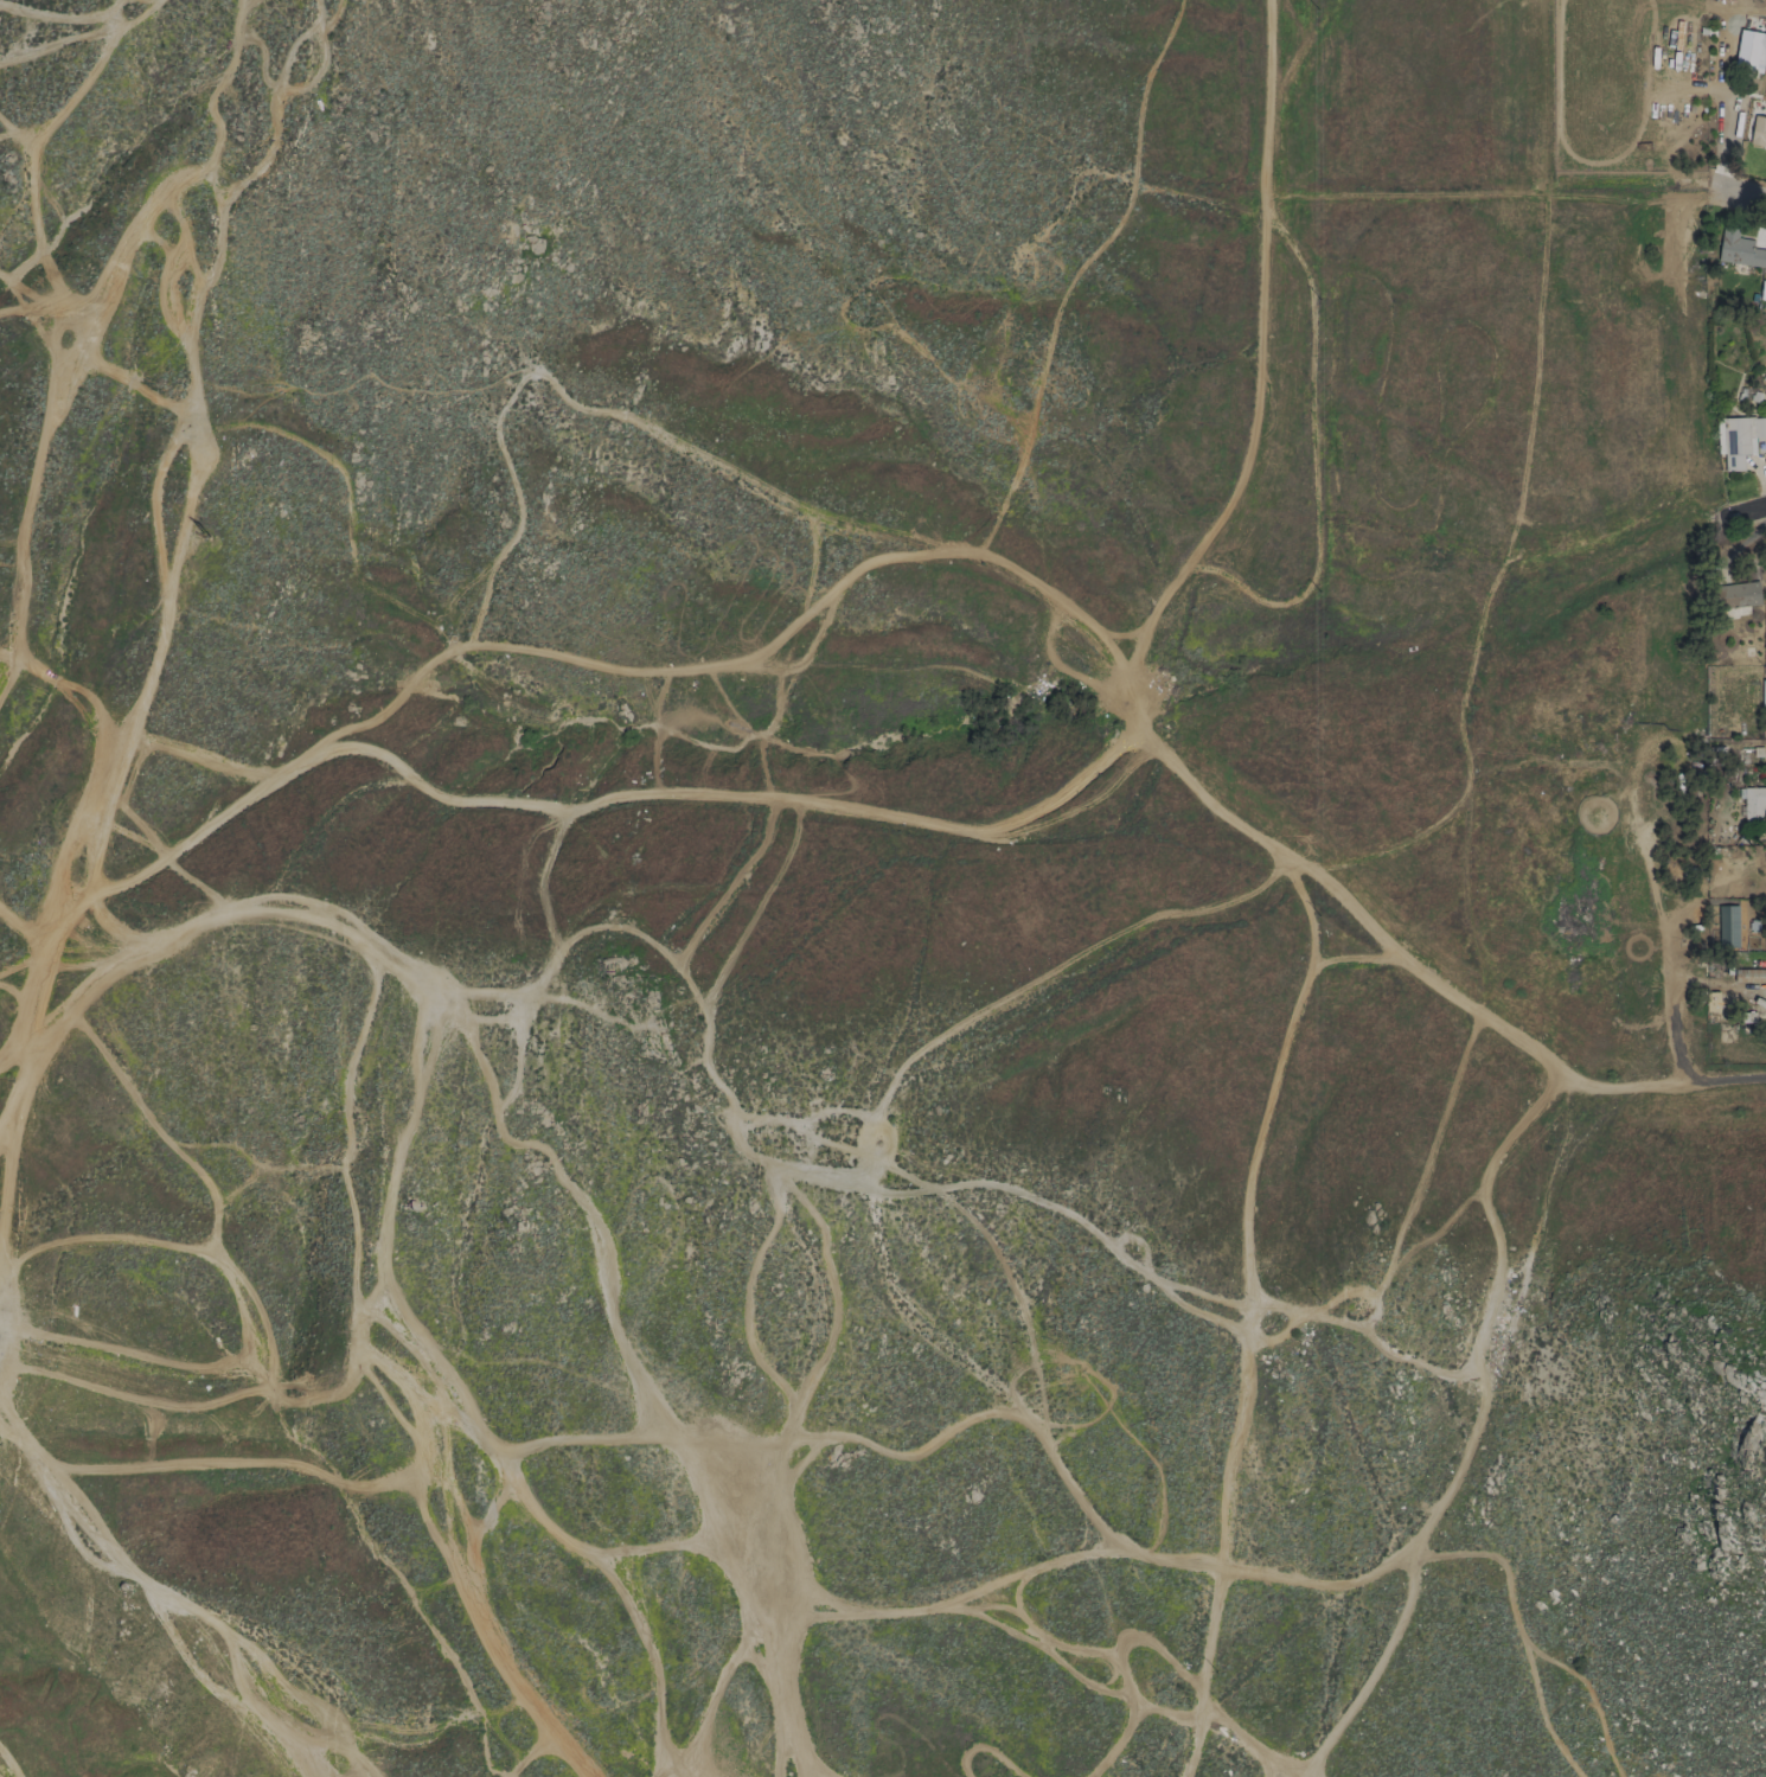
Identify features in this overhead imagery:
building: (1751, 50)
building: (1758, 130)
road: (1743, 190)
road: (1492, 191)
building: (1741, 251)
building: (1762, 289)
road: (185, 345)
building: (1740, 439)
road: (1749, 506)
road: (1478, 512)
building: (1738, 594)
road: (65, 688)
building: (1764, 692)
road: (1145, 728)
building: (1754, 804)
road: (640, 812)
road: (94, 869)
road: (1236, 1312)
road: (145, 1645)

